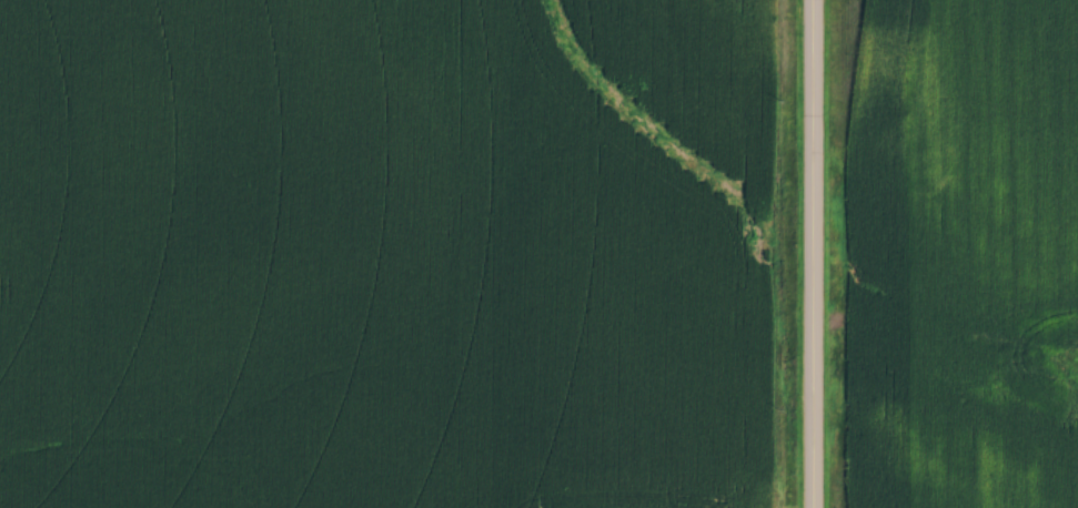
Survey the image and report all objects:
road: (814, 254)

